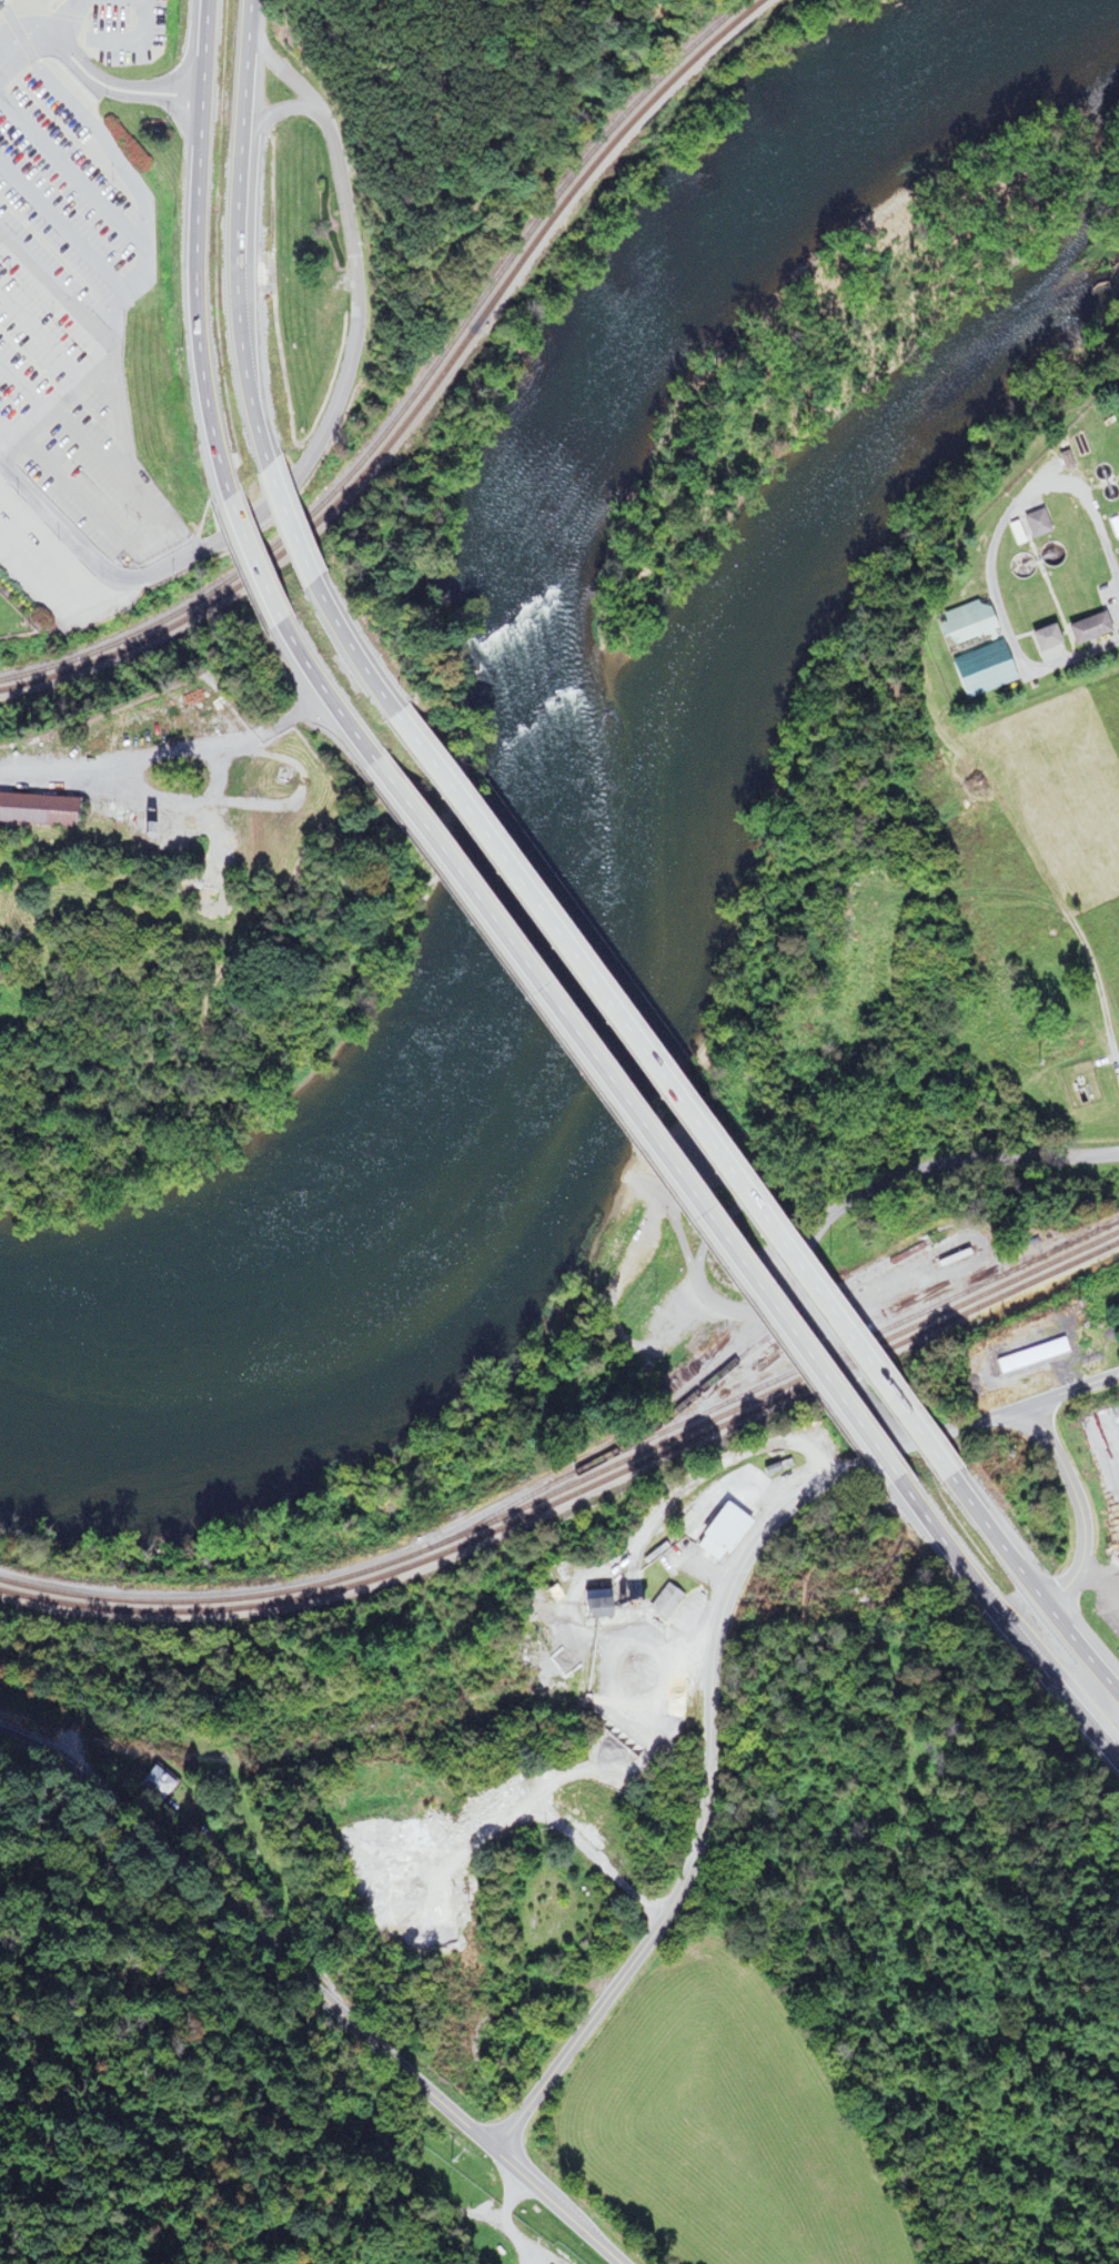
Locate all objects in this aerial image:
building: (0, 7)
road: (112, 88)
road: (335, 192)
road: (416, 204)
road: (236, 234)
road: (192, 244)
railway: (409, 402)
road: (299, 466)
road: (219, 495)
building: (1032, 523)
road: (284, 526)
building: (1113, 526)
road: (90, 562)
road: (245, 562)
building: (1083, 628)
building: (1040, 637)
building: (969, 648)
road: (344, 650)
road: (1034, 668)
road: (309, 685)
river: (518, 728)
road: (164, 755)
building: (36, 810)
building: (140, 829)
road: (976, 904)
road: (661, 1096)
road: (618, 1122)
road: (843, 1205)
building: (1117, 1408)
railway: (574, 1483)
road: (916, 1499)
road: (1080, 1506)
building: (717, 1532)
road: (629, 1550)
road: (792, 1559)
road: (1096, 1578)
road: (1029, 1584)
building: (552, 1594)
building: (661, 1601)
building: (586, 1607)
road: (1018, 1640)
road: (714, 1669)
building: (151, 1785)
road: (618, 1876)
road: (925, 1980)
road: (316, 1991)

